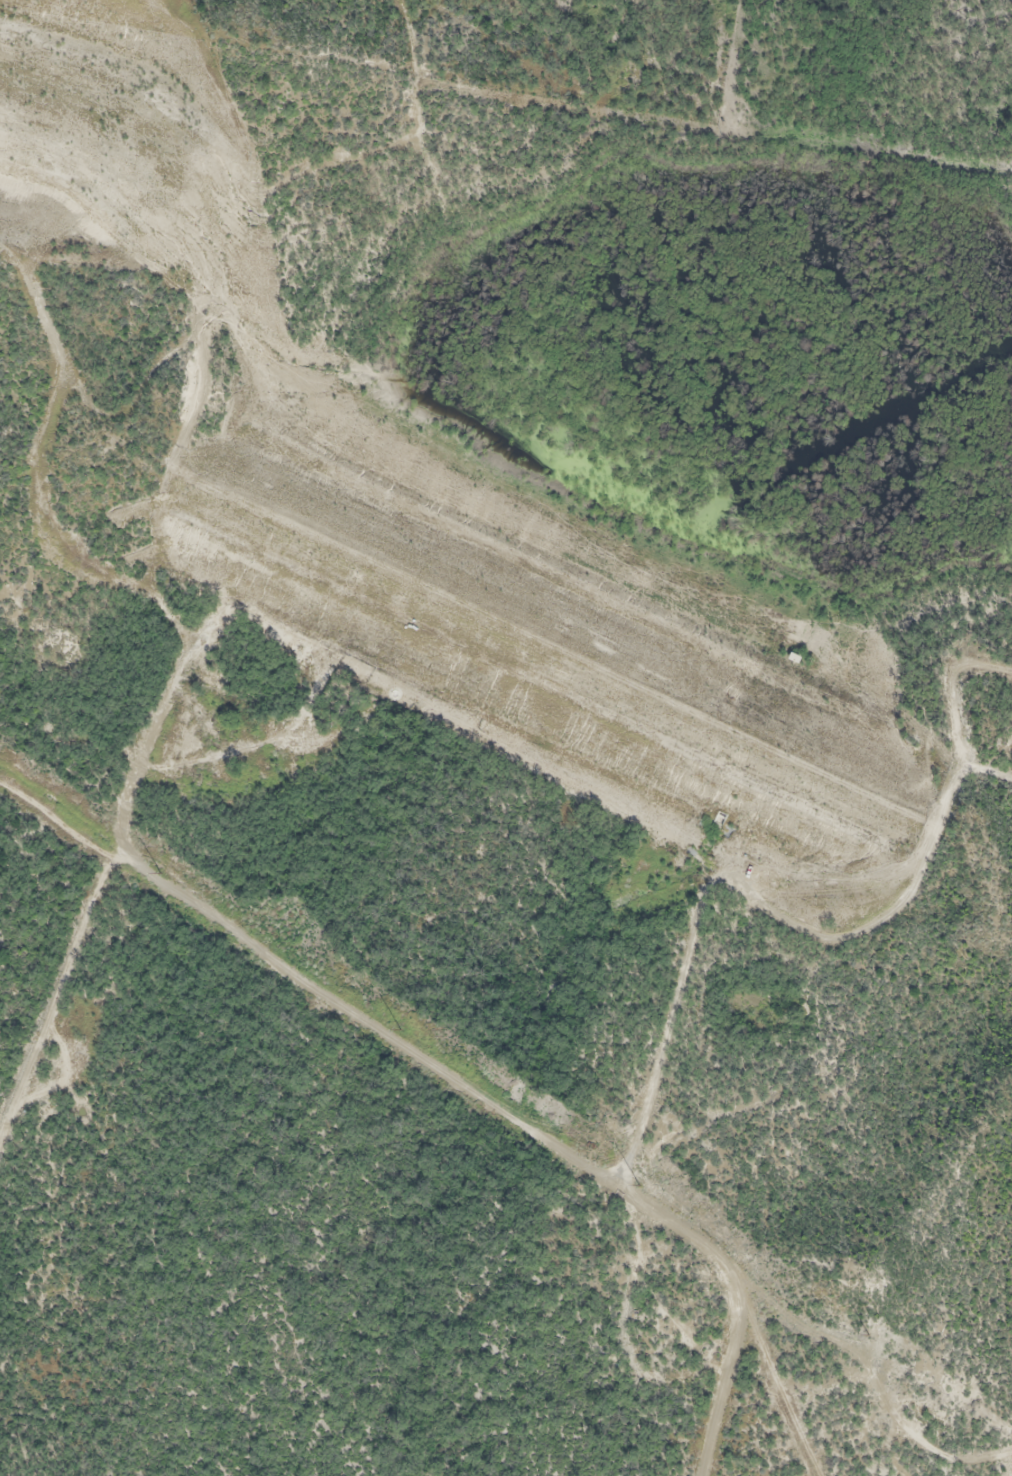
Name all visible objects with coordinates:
river: (849, 320)

